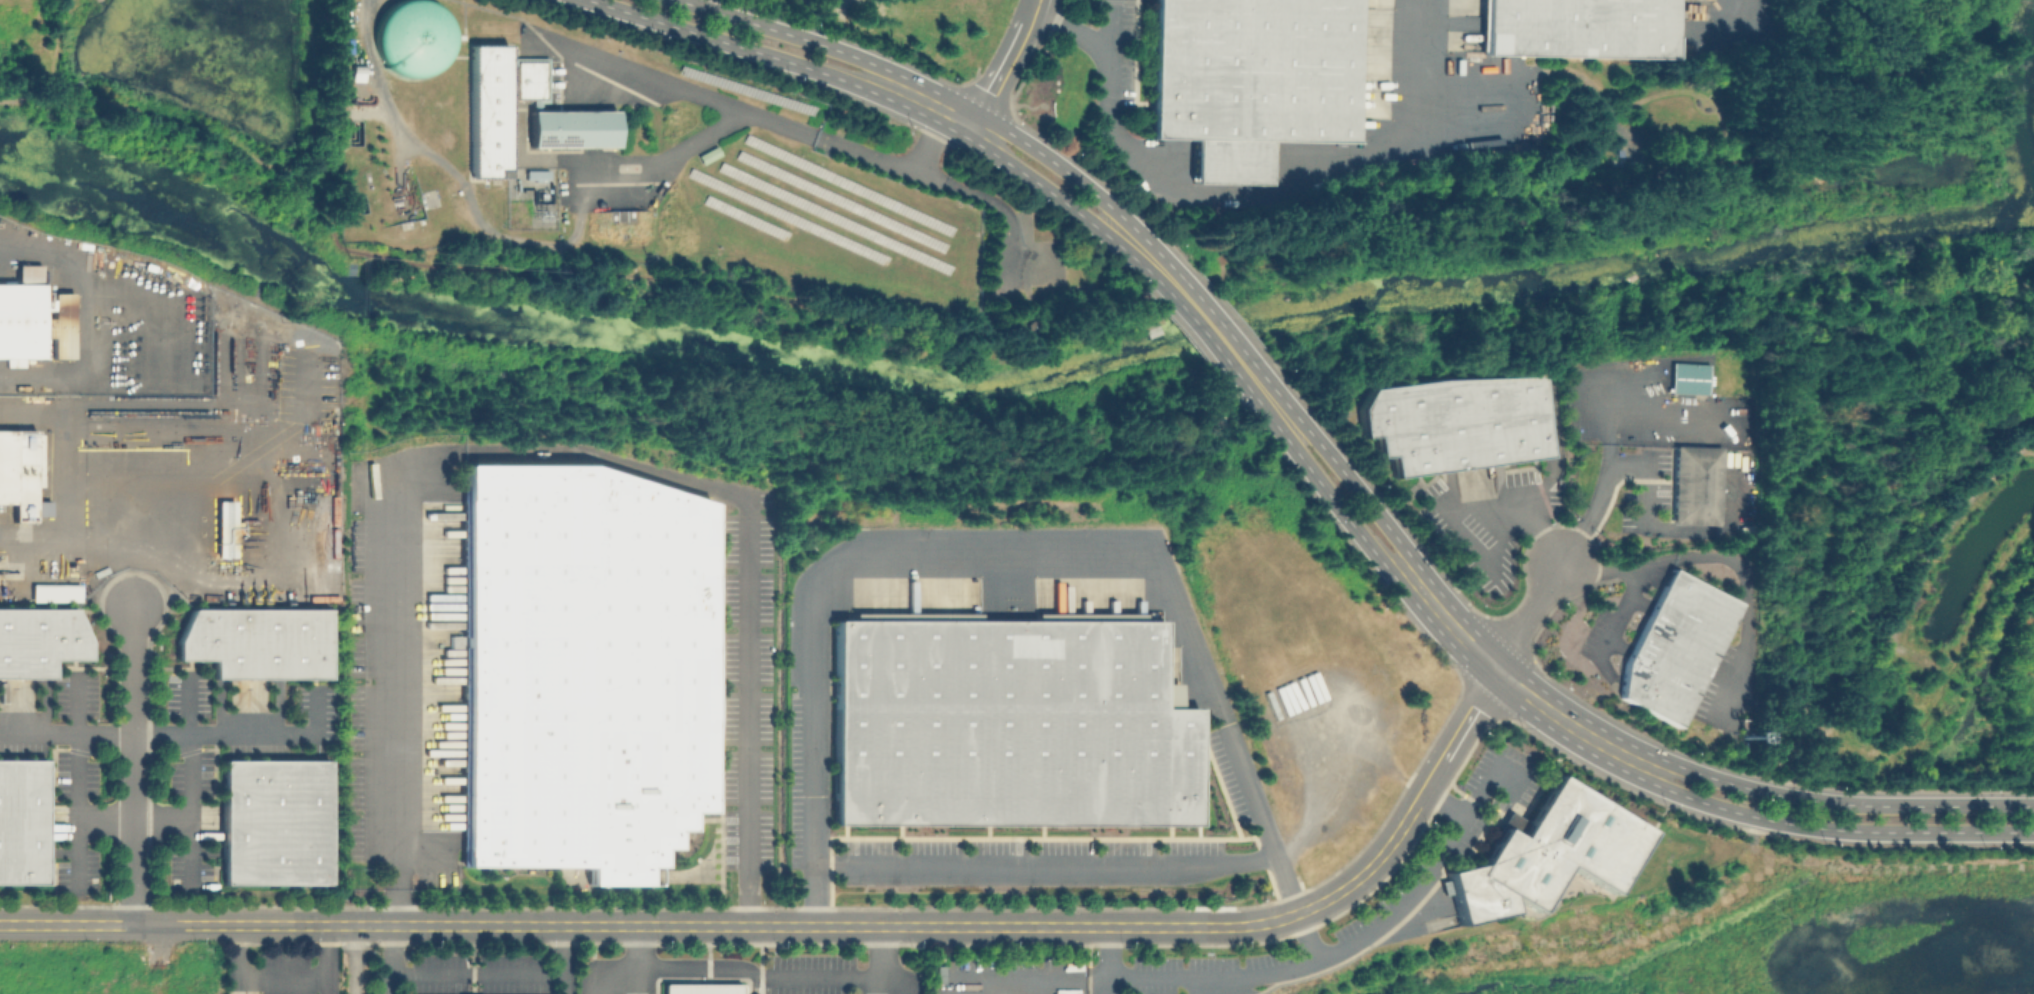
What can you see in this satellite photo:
road: (1029, 11)
building: (1581, 28)
road: (781, 32)
road: (1076, 33)
road: (1718, 33)
road: (1109, 35)
storage tank: (411, 36)
building: (411, 37)
road: (55, 41)
road: (732, 44)
road: (1878, 71)
road: (1000, 74)
building: (1252, 78)
building: (531, 81)
road: (1108, 94)
road: (925, 101)
road: (723, 102)
building: (488, 110)
road: (939, 123)
building: (575, 126)
road: (662, 162)
road: (453, 171)
building: (538, 173)
road: (1421, 176)
road: (1075, 179)
road: (1311, 182)
road: (979, 196)
road: (1058, 197)
power substation: (530, 198)
road: (1038, 200)
road: (490, 268)
building: (30, 274)
road: (1097, 289)
road: (1028, 297)
road: (1208, 308)
road: (1192, 317)
road: (84, 318)
building: (35, 322)
road: (1182, 325)
building: (17, 362)
building: (1688, 377)
road: (1673, 421)
building: (1453, 422)
road: (1608, 424)
road: (1552, 432)
road: (65, 445)
road: (563, 452)
building: (42, 455)
road: (1335, 462)
building: (19, 469)
road: (1315, 476)
building: (1698, 483)
road: (1515, 487)
road: (1644, 501)
building: (225, 529)
road: (1344, 536)
road: (88, 541)
road: (1473, 546)
road: (1001, 548)
road: (1653, 562)
building: (58, 591)
road: (1620, 610)
road: (1527, 616)
building: (39, 641)
building: (258, 642)
building: (1677, 646)
building: (581, 667)
road: (1513, 683)
road: (1730, 684)
road: (1477, 706)
road: (1470, 713)
building: (1008, 722)
road: (162, 731)
road: (133, 764)
road: (1429, 783)
road: (1837, 803)
road: (1471, 810)
road: (134, 814)
building: (275, 821)
building: (21, 823)
road: (1831, 829)
road: (1752, 830)
road: (191, 849)
road: (78, 850)
building: (1549, 854)
road: (1045, 868)
road: (112, 924)
road: (842, 926)
road: (1307, 934)
road: (638, 947)
road: (881, 951)
road: (356, 959)
road: (565, 959)
road: (394, 960)
road: (1293, 963)
road: (479, 971)
road: (608, 972)
road: (776, 977)
road: (1031, 977)
road: (1107, 985)
road: (1222, 985)
building: (703, 989)

